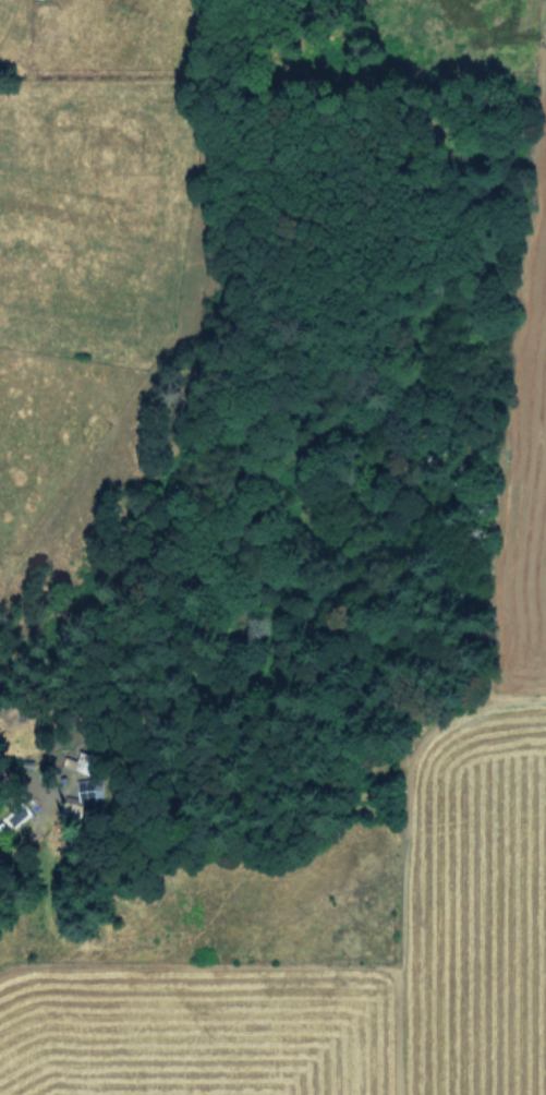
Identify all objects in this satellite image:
crop: (97, 230)
crop: (352, 876)

